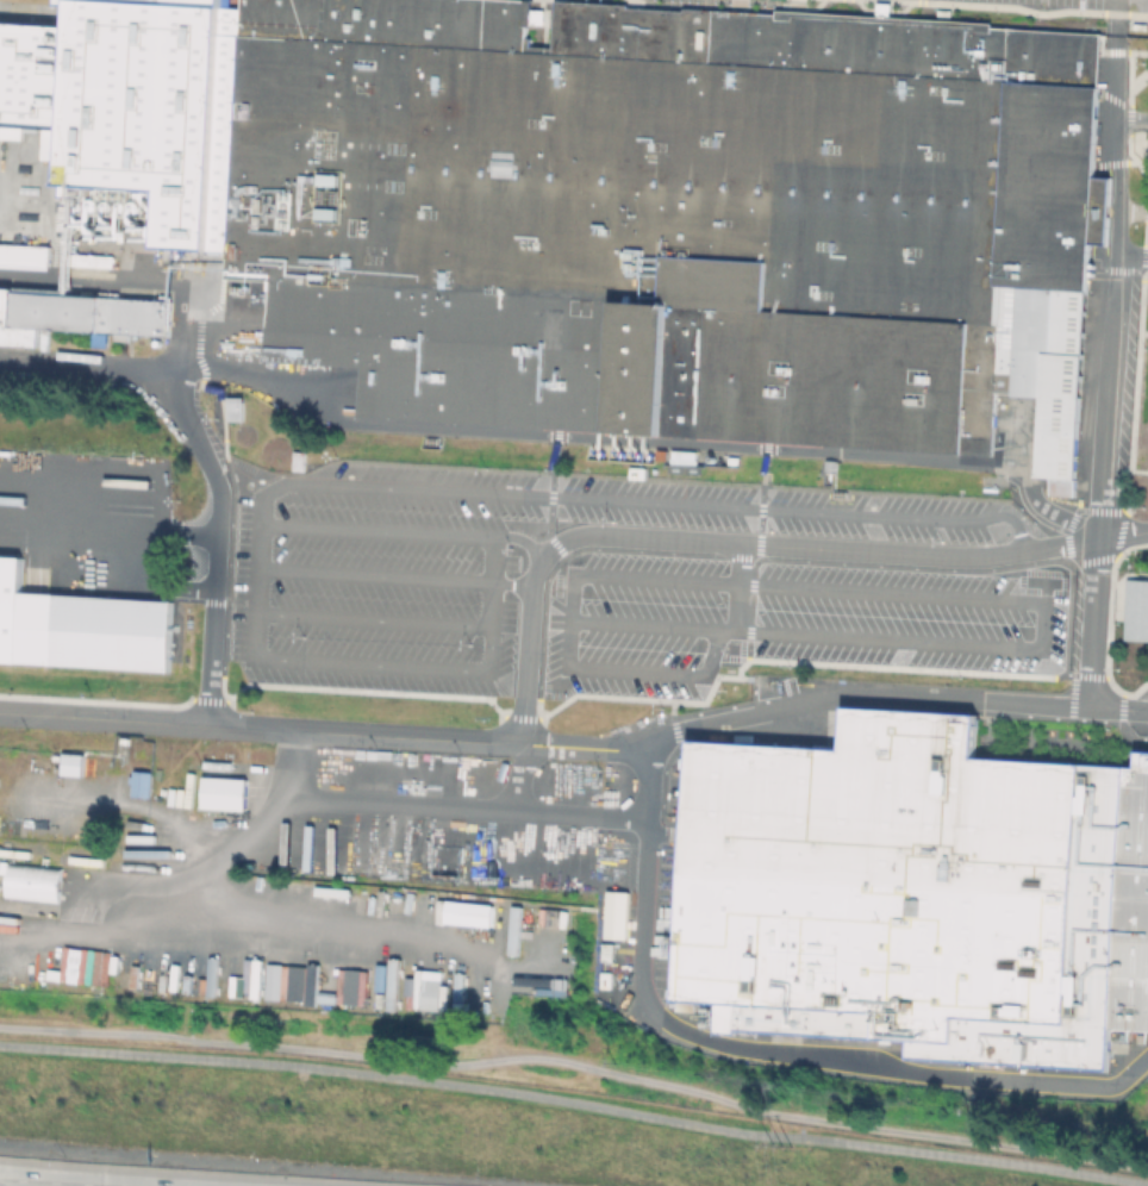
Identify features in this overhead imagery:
building: (612, 207)
building: (23, 257)
building: (83, 314)
road: (1108, 379)
building: (237, 406)
road: (211, 457)
building: (300, 458)
road: (411, 491)
road: (262, 498)
road: (792, 511)
road: (537, 517)
road: (111, 520)
road: (399, 531)
building: (1127, 554)
road: (493, 558)
road: (375, 574)
road: (512, 583)
road: (256, 592)
road: (532, 592)
road: (491, 603)
building: (1137, 611)
road: (373, 617)
building: (80, 625)
road: (1092, 637)
road: (391, 666)
road: (589, 748)
building: (70, 763)
road: (519, 779)
building: (139, 784)
building: (222, 793)
road: (469, 810)
road: (249, 831)
building: (884, 878)
building: (32, 881)
road: (649, 907)
building: (467, 913)
building: (614, 915)
building: (1087, 942)
building: (302, 980)
building: (431, 994)
building: (785, 1018)
road: (575, 1101)
road: (26, 1181)
road: (20, 1184)

